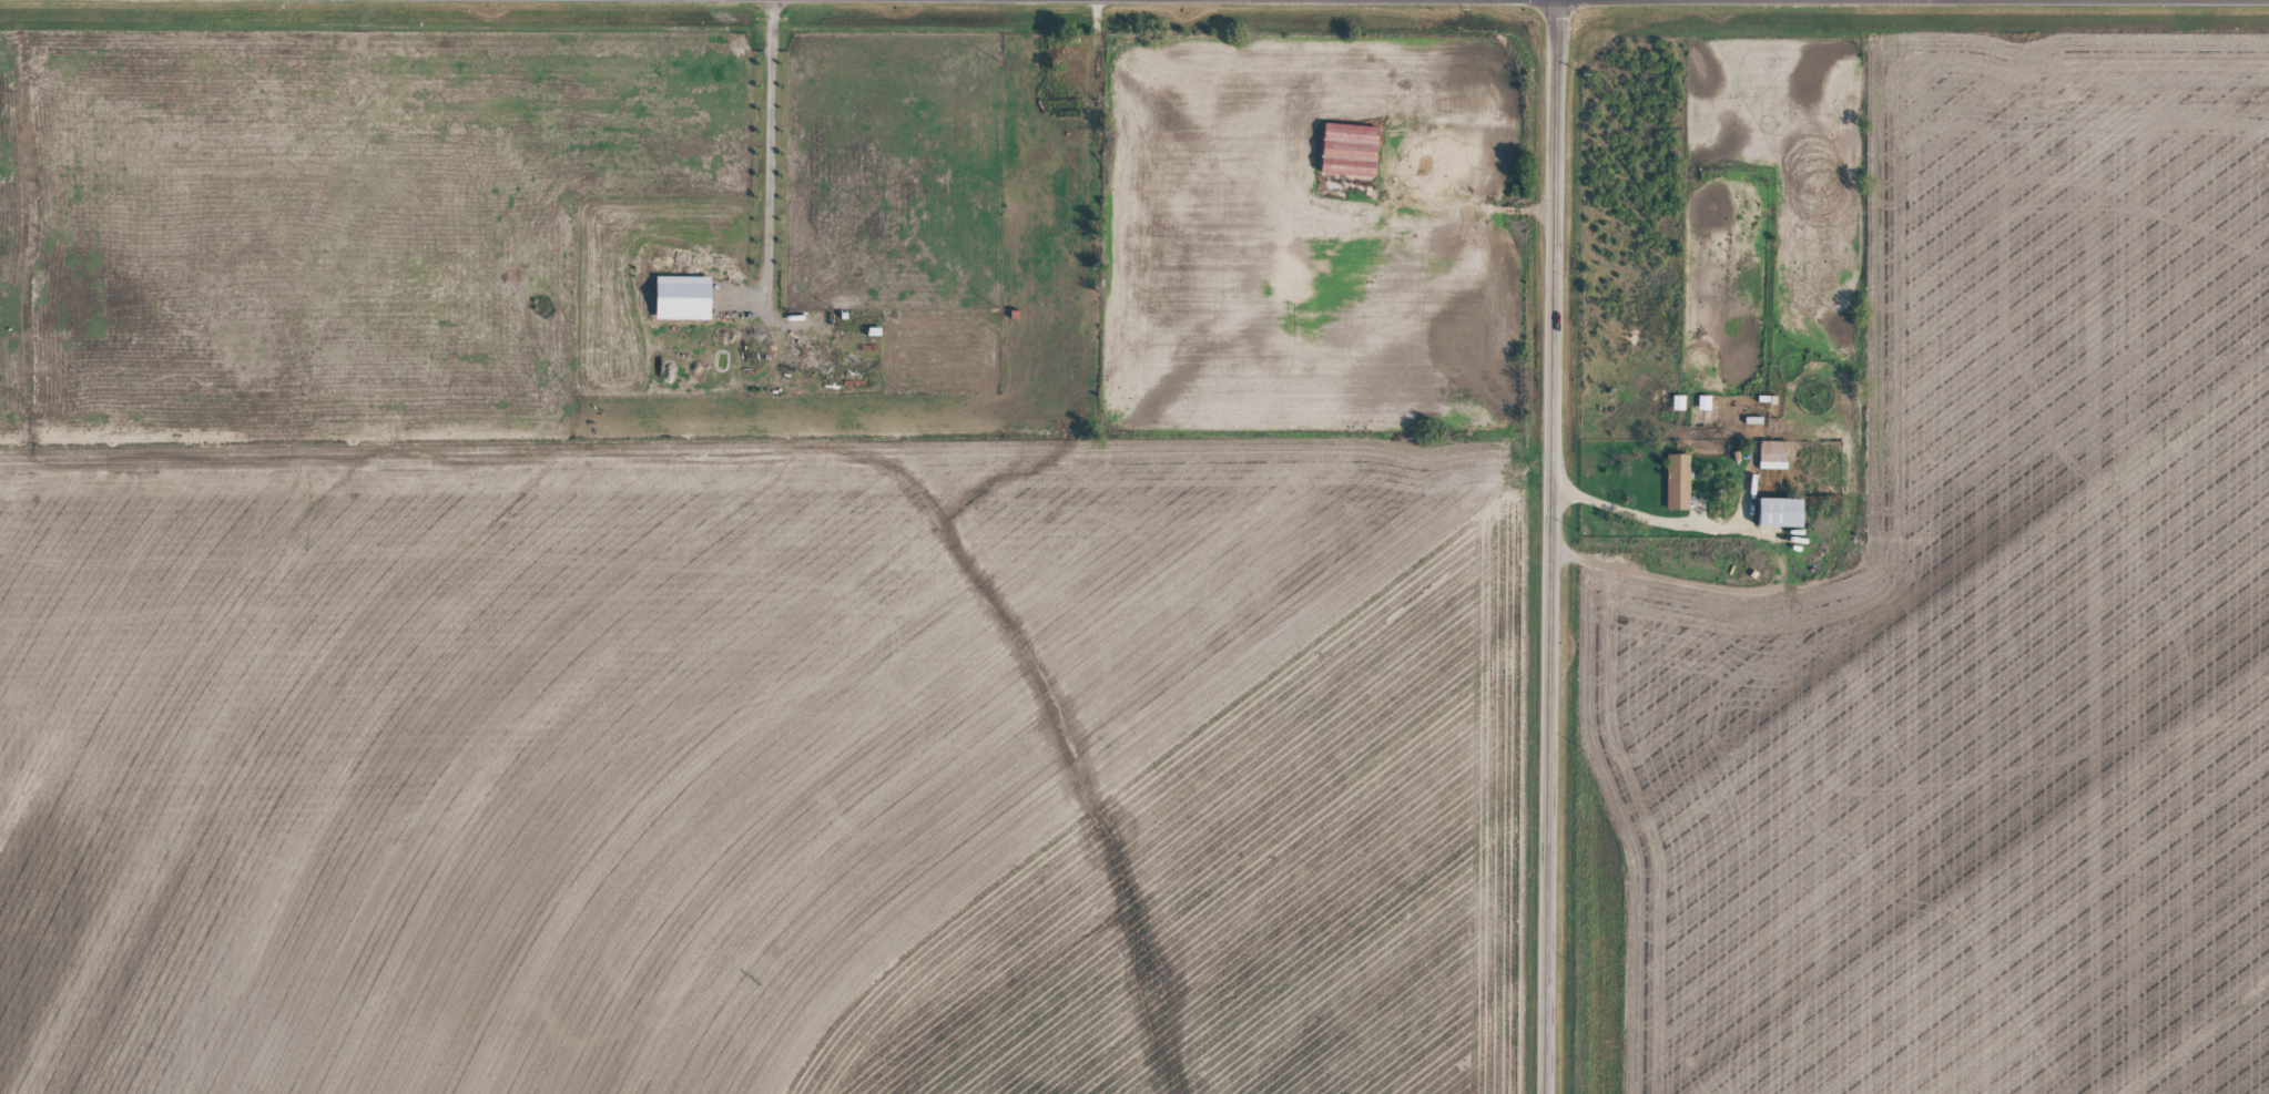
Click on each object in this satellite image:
road: (770, 154)
building: (684, 308)
building: (1679, 412)
building: (1678, 491)
building: (1783, 522)
road: (1555, 546)

